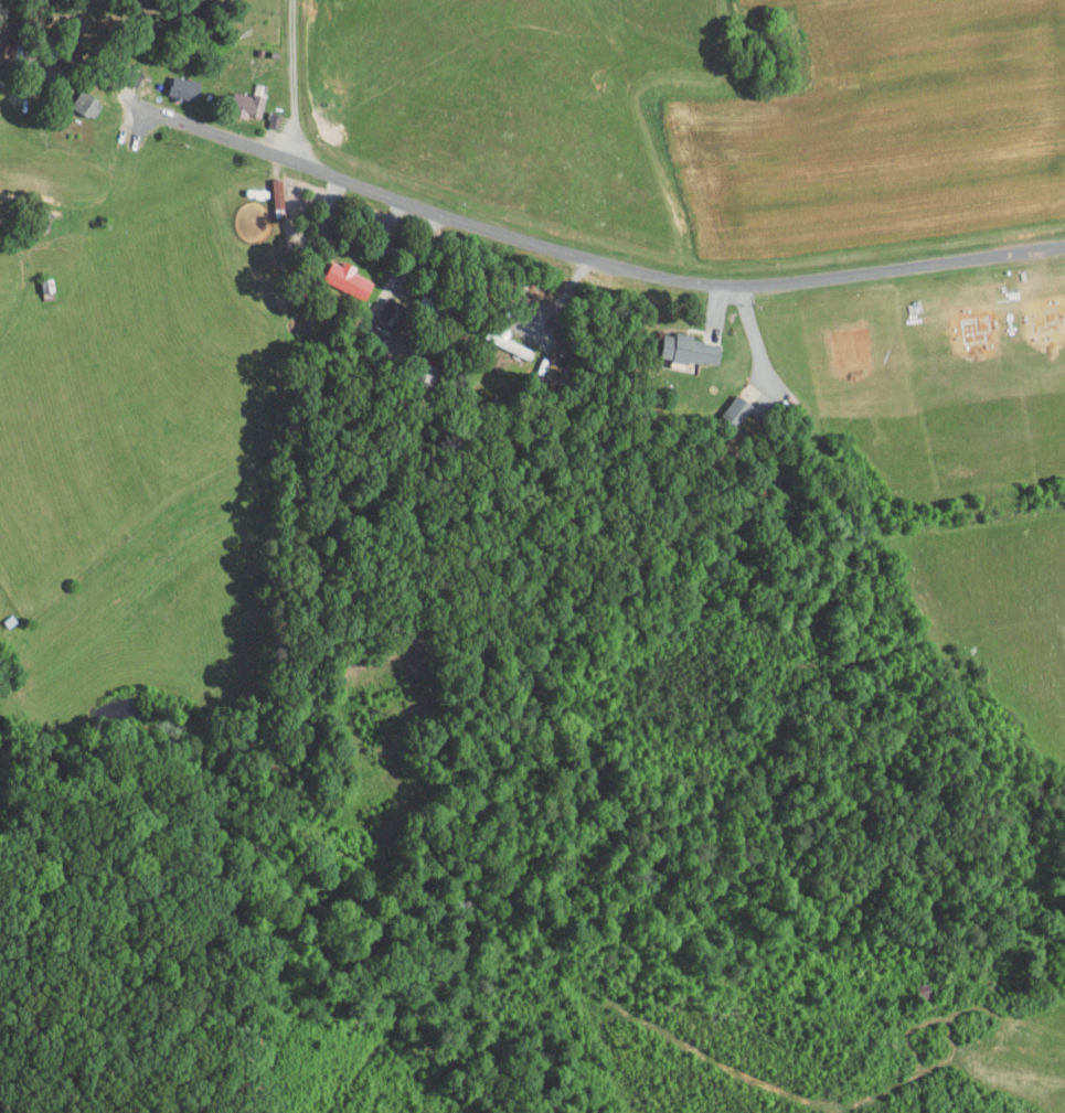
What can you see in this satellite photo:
road: (294, 79)
building: (76, 96)
building: (234, 97)
road: (142, 106)
building: (337, 271)
road: (671, 278)
road: (718, 298)
building: (383, 309)
road: (754, 334)
building: (681, 342)
building: (728, 404)

